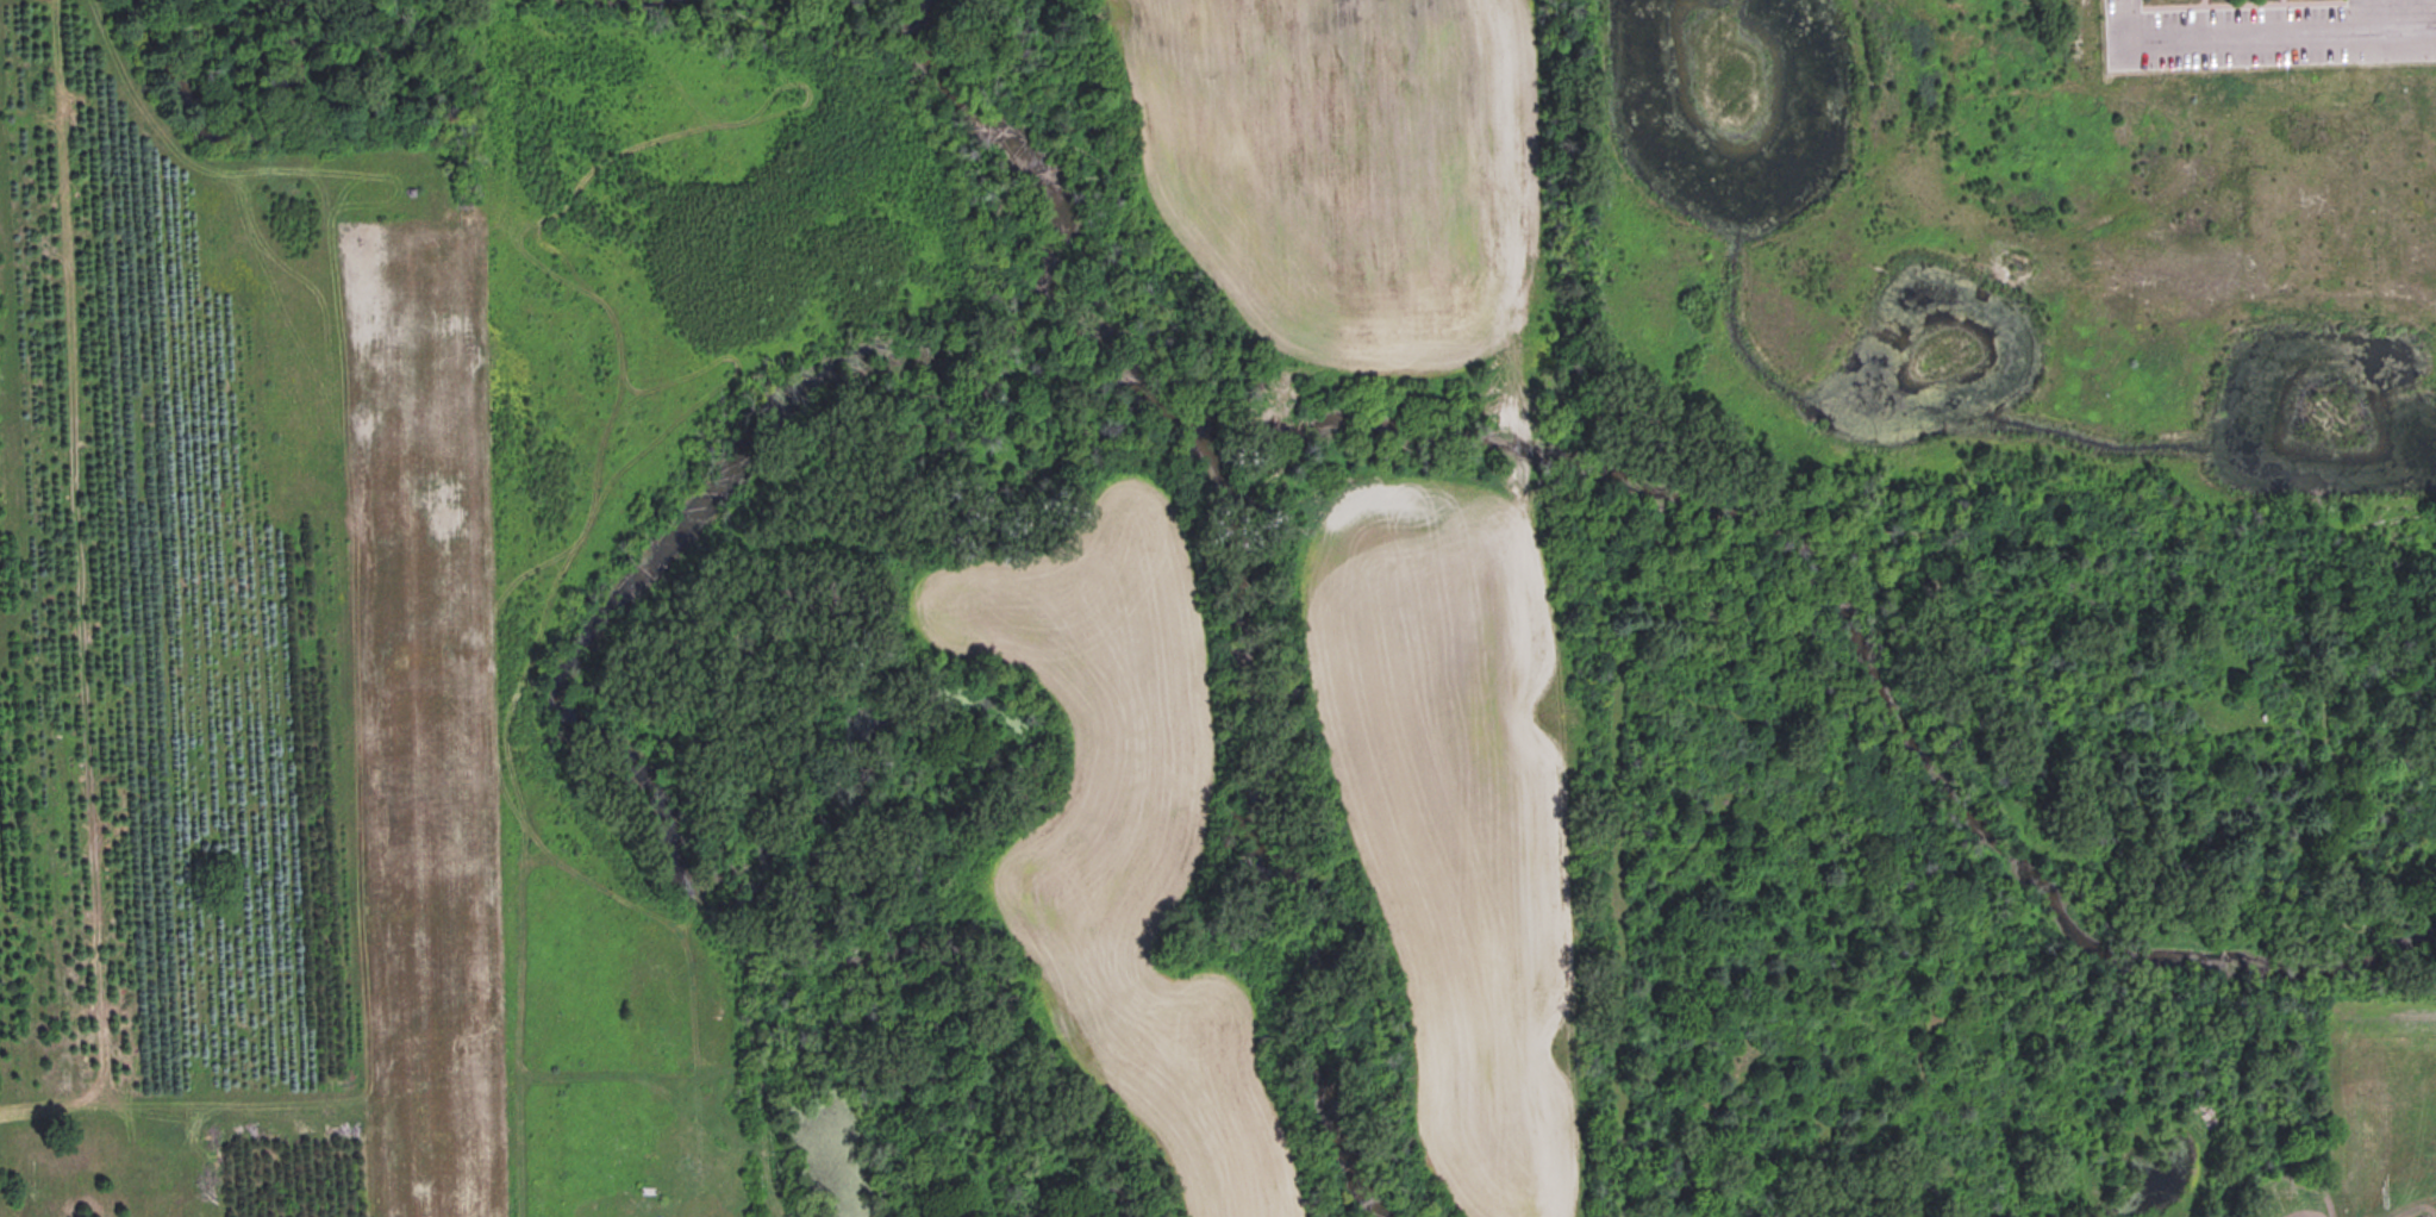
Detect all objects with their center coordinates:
road: (2281, 37)
river: (1855, 637)

